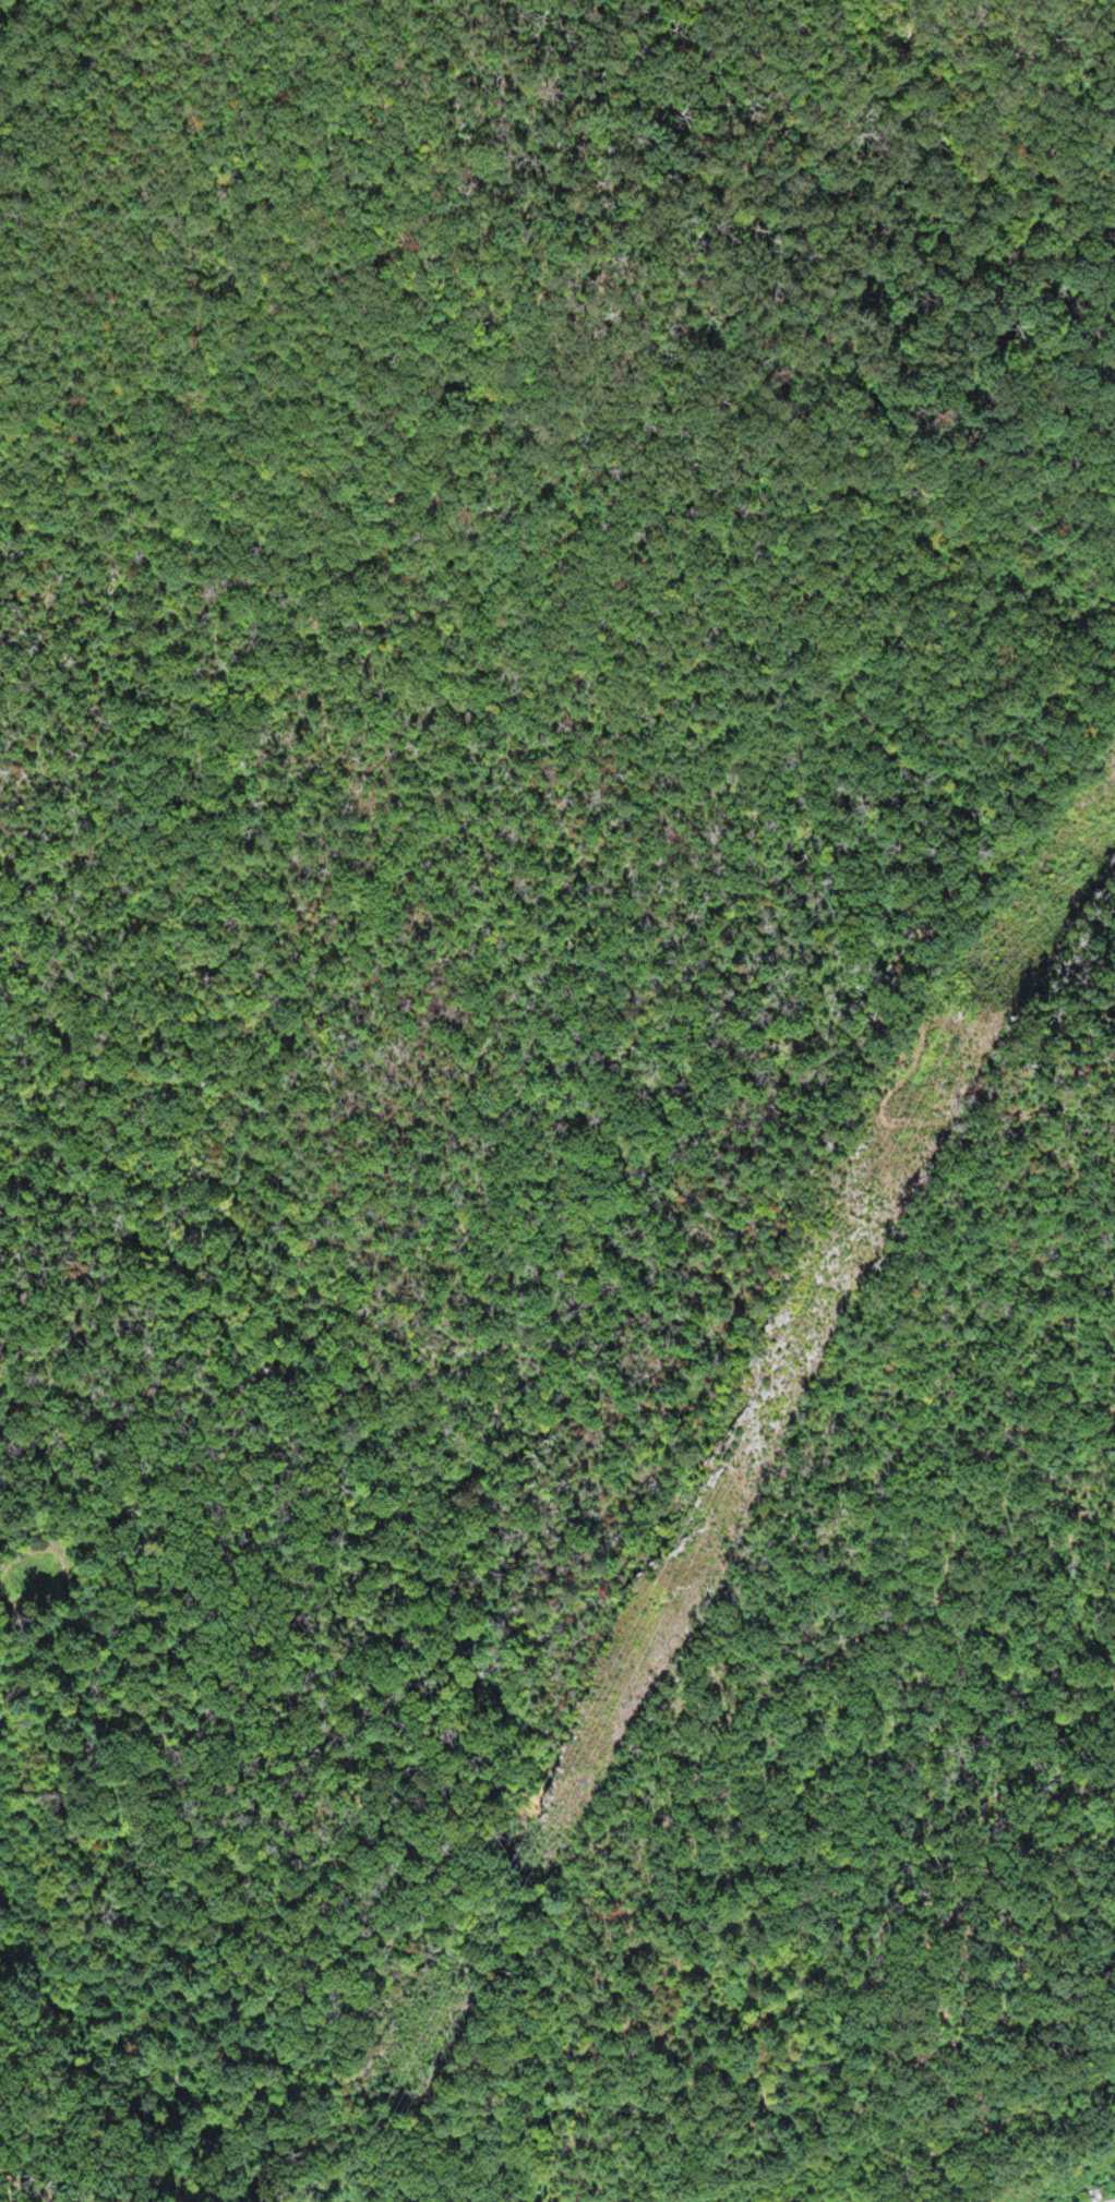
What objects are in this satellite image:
power tower: (957, 1014)
road: (1114, 2201)

